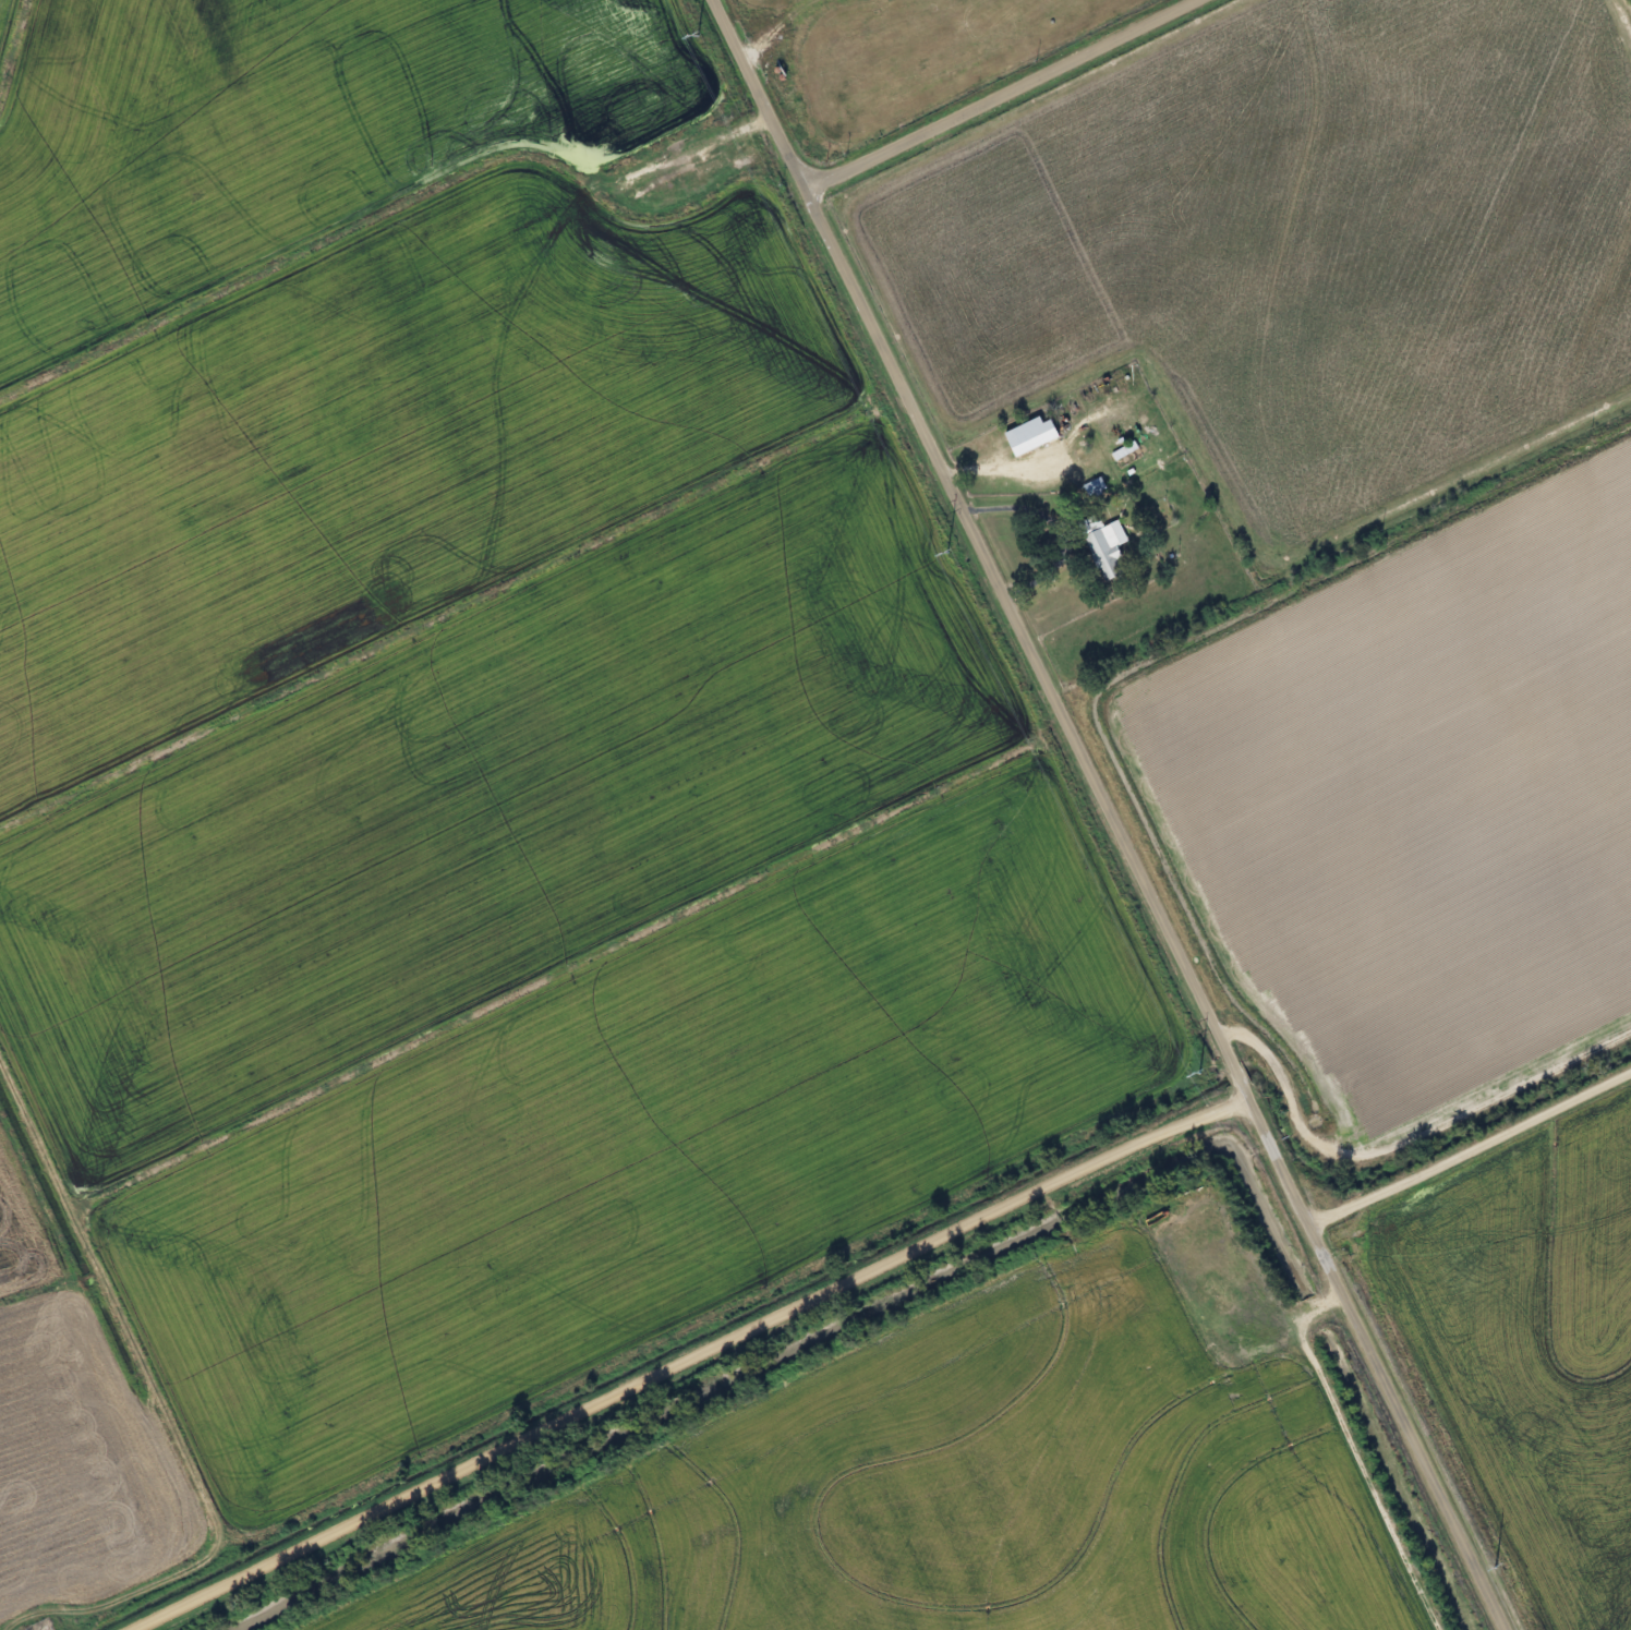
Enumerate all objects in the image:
power tower: (691, 34)
road: (1000, 95)
road: (485, 251)
building: (1025, 435)
road: (1044, 462)
building: (1089, 486)
road: (1060, 520)
building: (1098, 548)
power tower: (941, 551)
road: (1110, 814)
power tower: (1193, 1071)
road: (1470, 1145)
road: (1295, 1306)
road: (682, 1359)
power tower: (1490, 1567)
road: (29, 1629)

